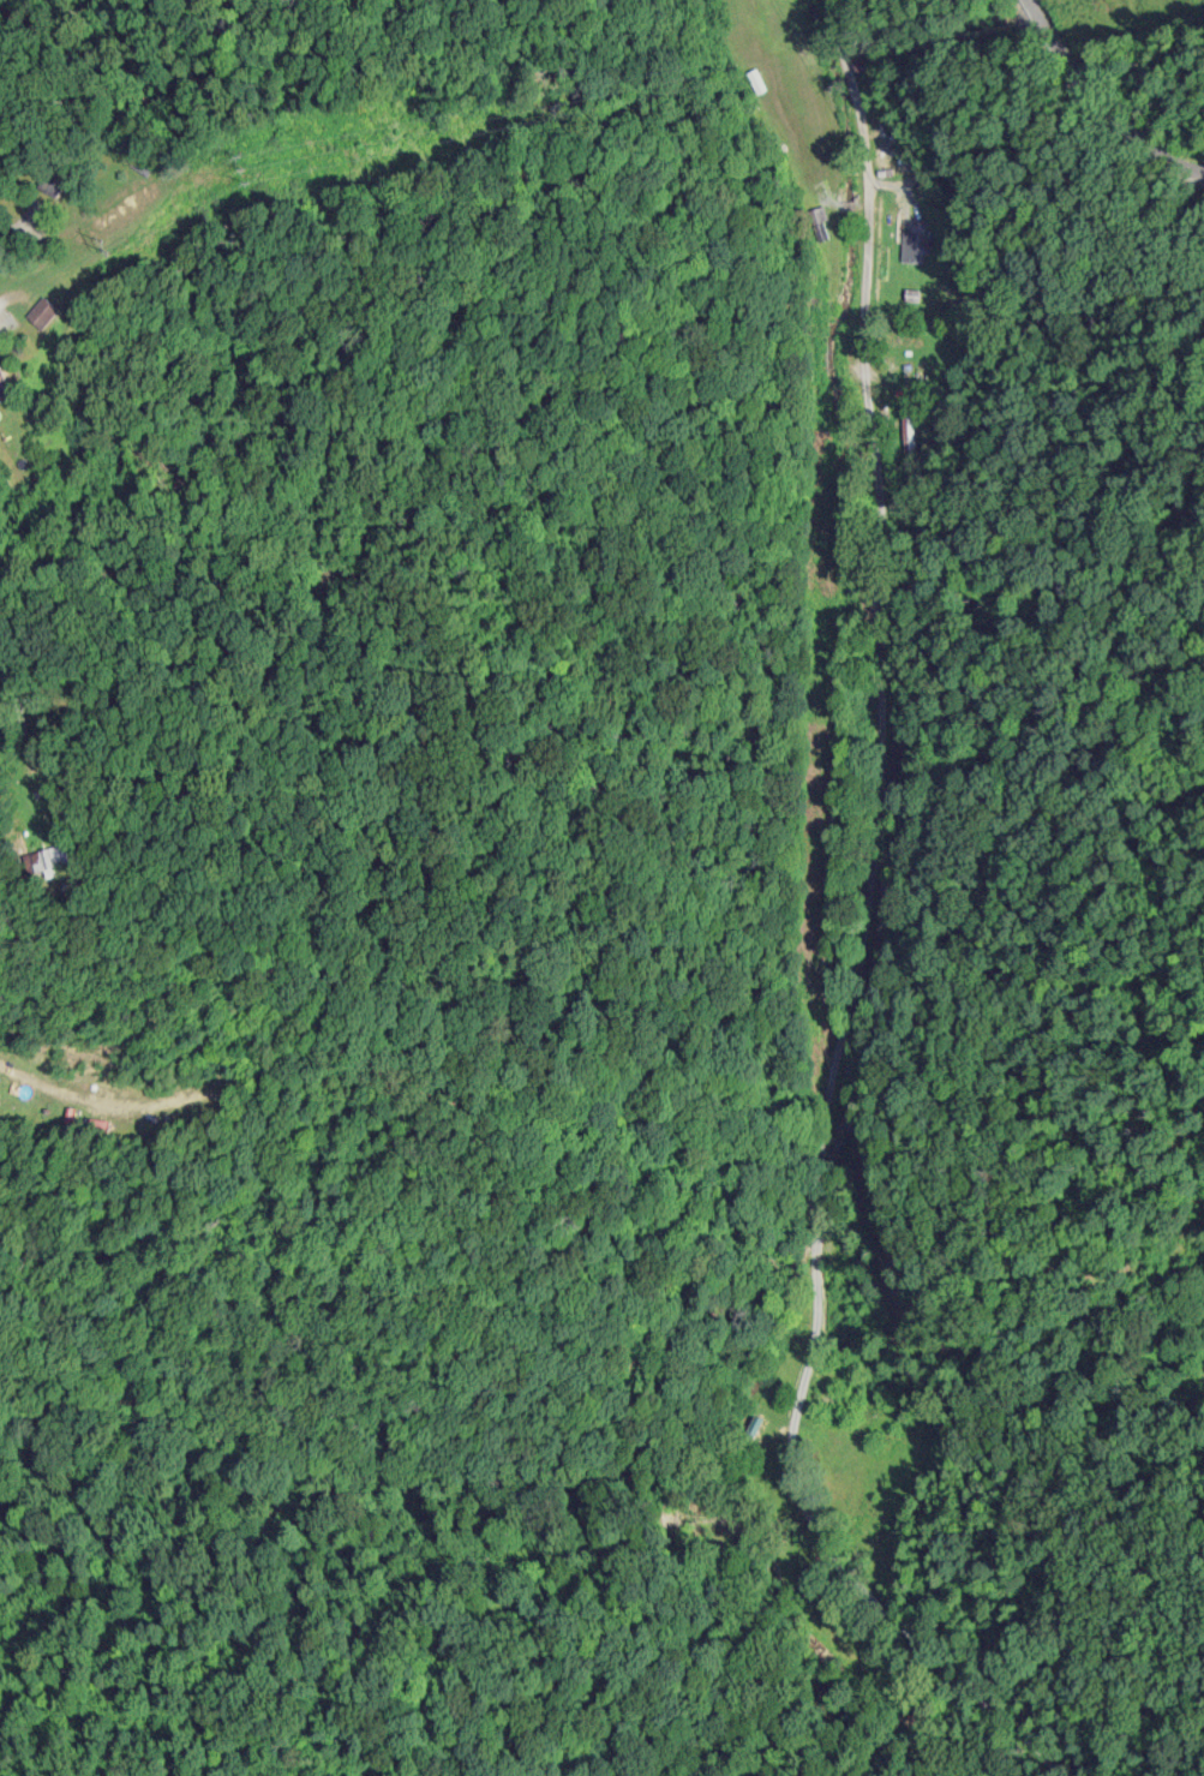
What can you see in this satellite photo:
road: (850, 18)
power tower: (742, 71)
road: (1097, 114)
power tower: (108, 235)
building: (916, 240)
road: (7, 281)
road: (34, 307)
building: (0, 382)
road: (31, 692)
road: (840, 941)

